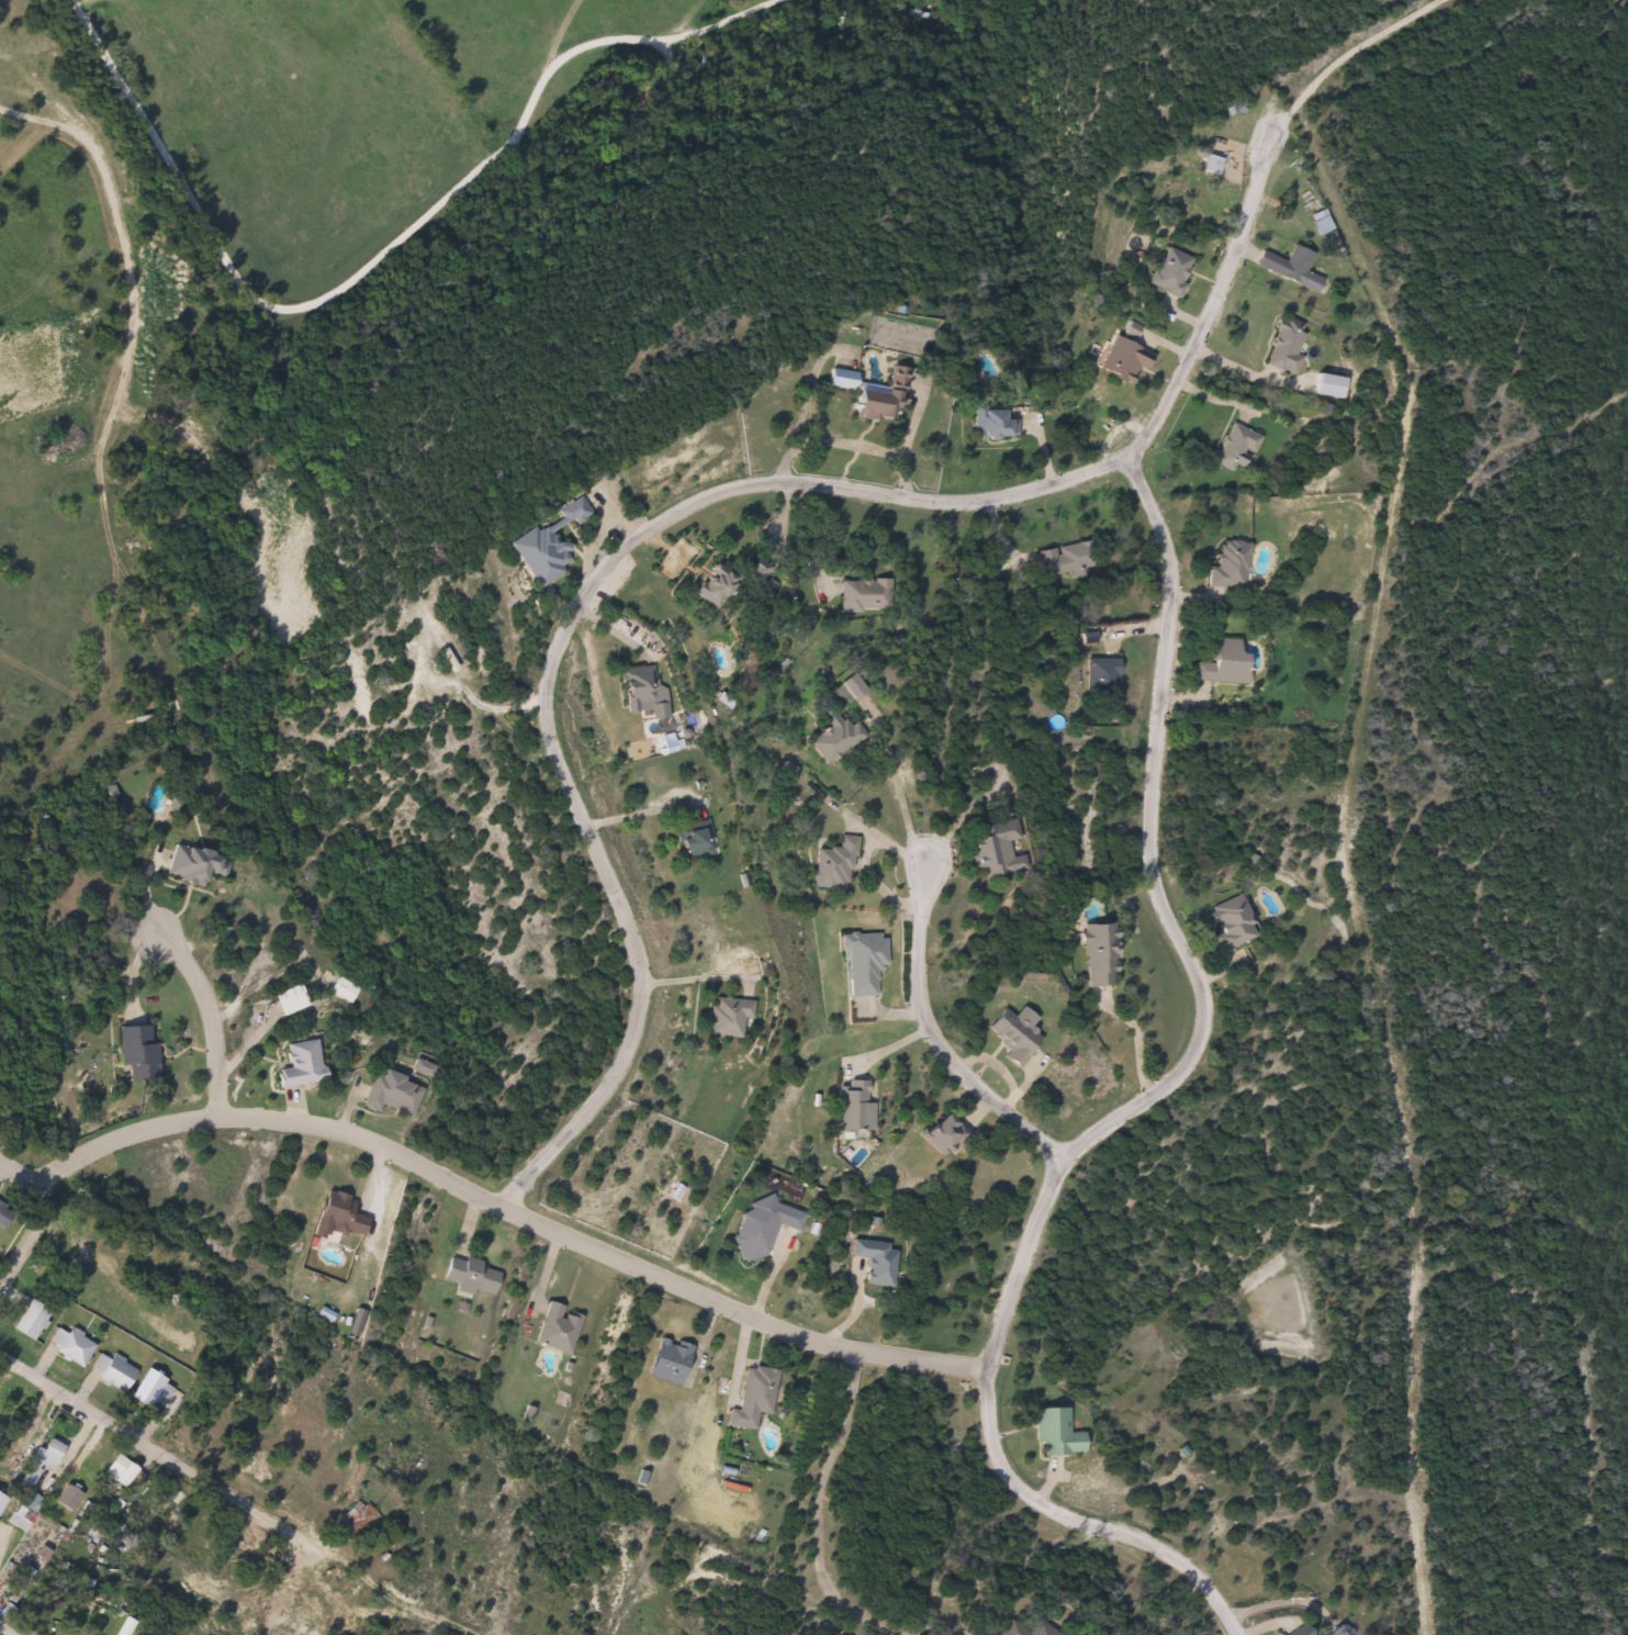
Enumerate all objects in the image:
road: (1349, 54)
building: (1290, 268)
building: (1169, 272)
building: (1284, 347)
building: (1120, 361)
building: (991, 424)
building: (1234, 447)
road: (686, 511)
building: (544, 545)
building: (1066, 559)
building: (1227, 565)
building: (707, 587)
building: (864, 595)
building: (1222, 662)
building: (1101, 677)
building: (636, 686)
road: (479, 702)
building: (834, 740)
building: (992, 850)
road: (1340, 862)
building: (193, 865)
building: (831, 866)
building: (1228, 923)
road: (1181, 950)
building: (1099, 955)
building: (862, 962)
road: (694, 967)
building: (289, 1000)
building: (729, 1017)
road: (209, 1021)
road: (931, 1032)
building: (1012, 1038)
building: (135, 1052)
building: (297, 1065)
building: (391, 1094)
building: (854, 1111)
building: (942, 1135)
road: (24, 1180)
road: (513, 1210)
building: (338, 1213)
building: (4, 1218)
building: (761, 1228)
road: (24, 1239)
building: (874, 1262)
building: (470, 1275)
building: (29, 1321)
building: (557, 1329)
building: (69, 1347)
building: (666, 1362)
building: (149, 1390)
building: (753, 1397)
building: (1053, 1432)
building: (46, 1454)
road: (157, 1454)
building: (12, 1462)
building: (117, 1470)
building: (250, 1471)
building: (30, 1475)
building: (1, 1502)
road: (816, 1508)
road: (1079, 1526)
building: (19, 1586)
building: (1037, 1628)
building: (1010, 1632)
building: (1296, 1632)
building: (96, 1633)

